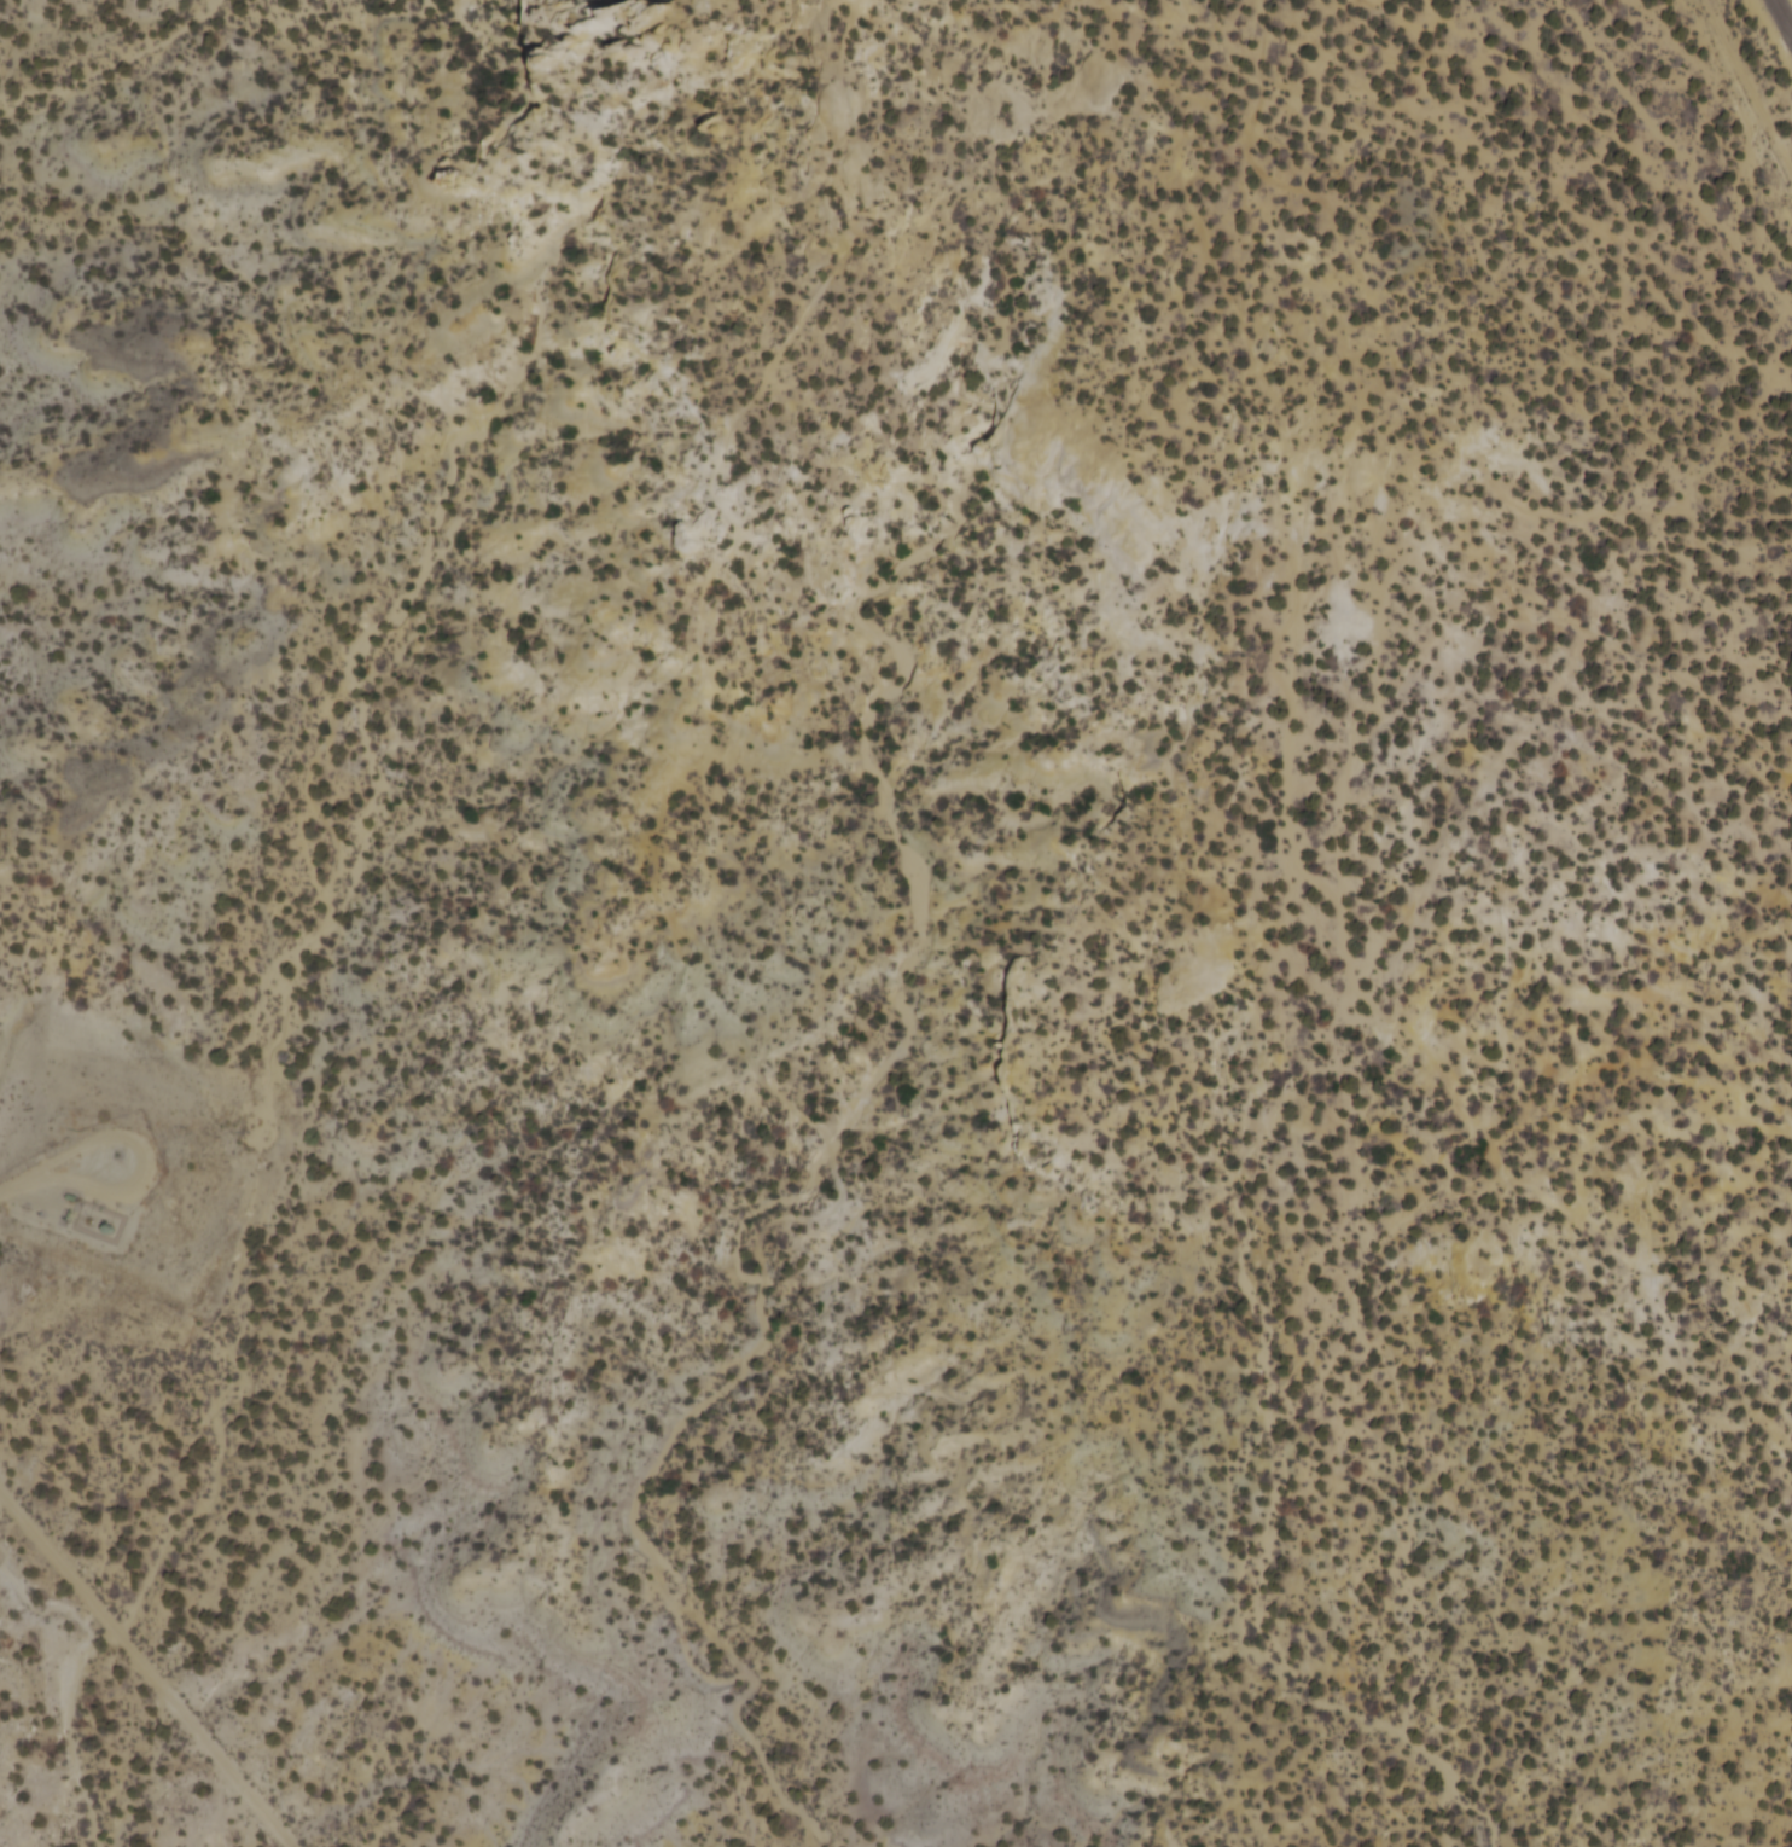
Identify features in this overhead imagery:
road: (1787, 7)
road: (133, 1698)

